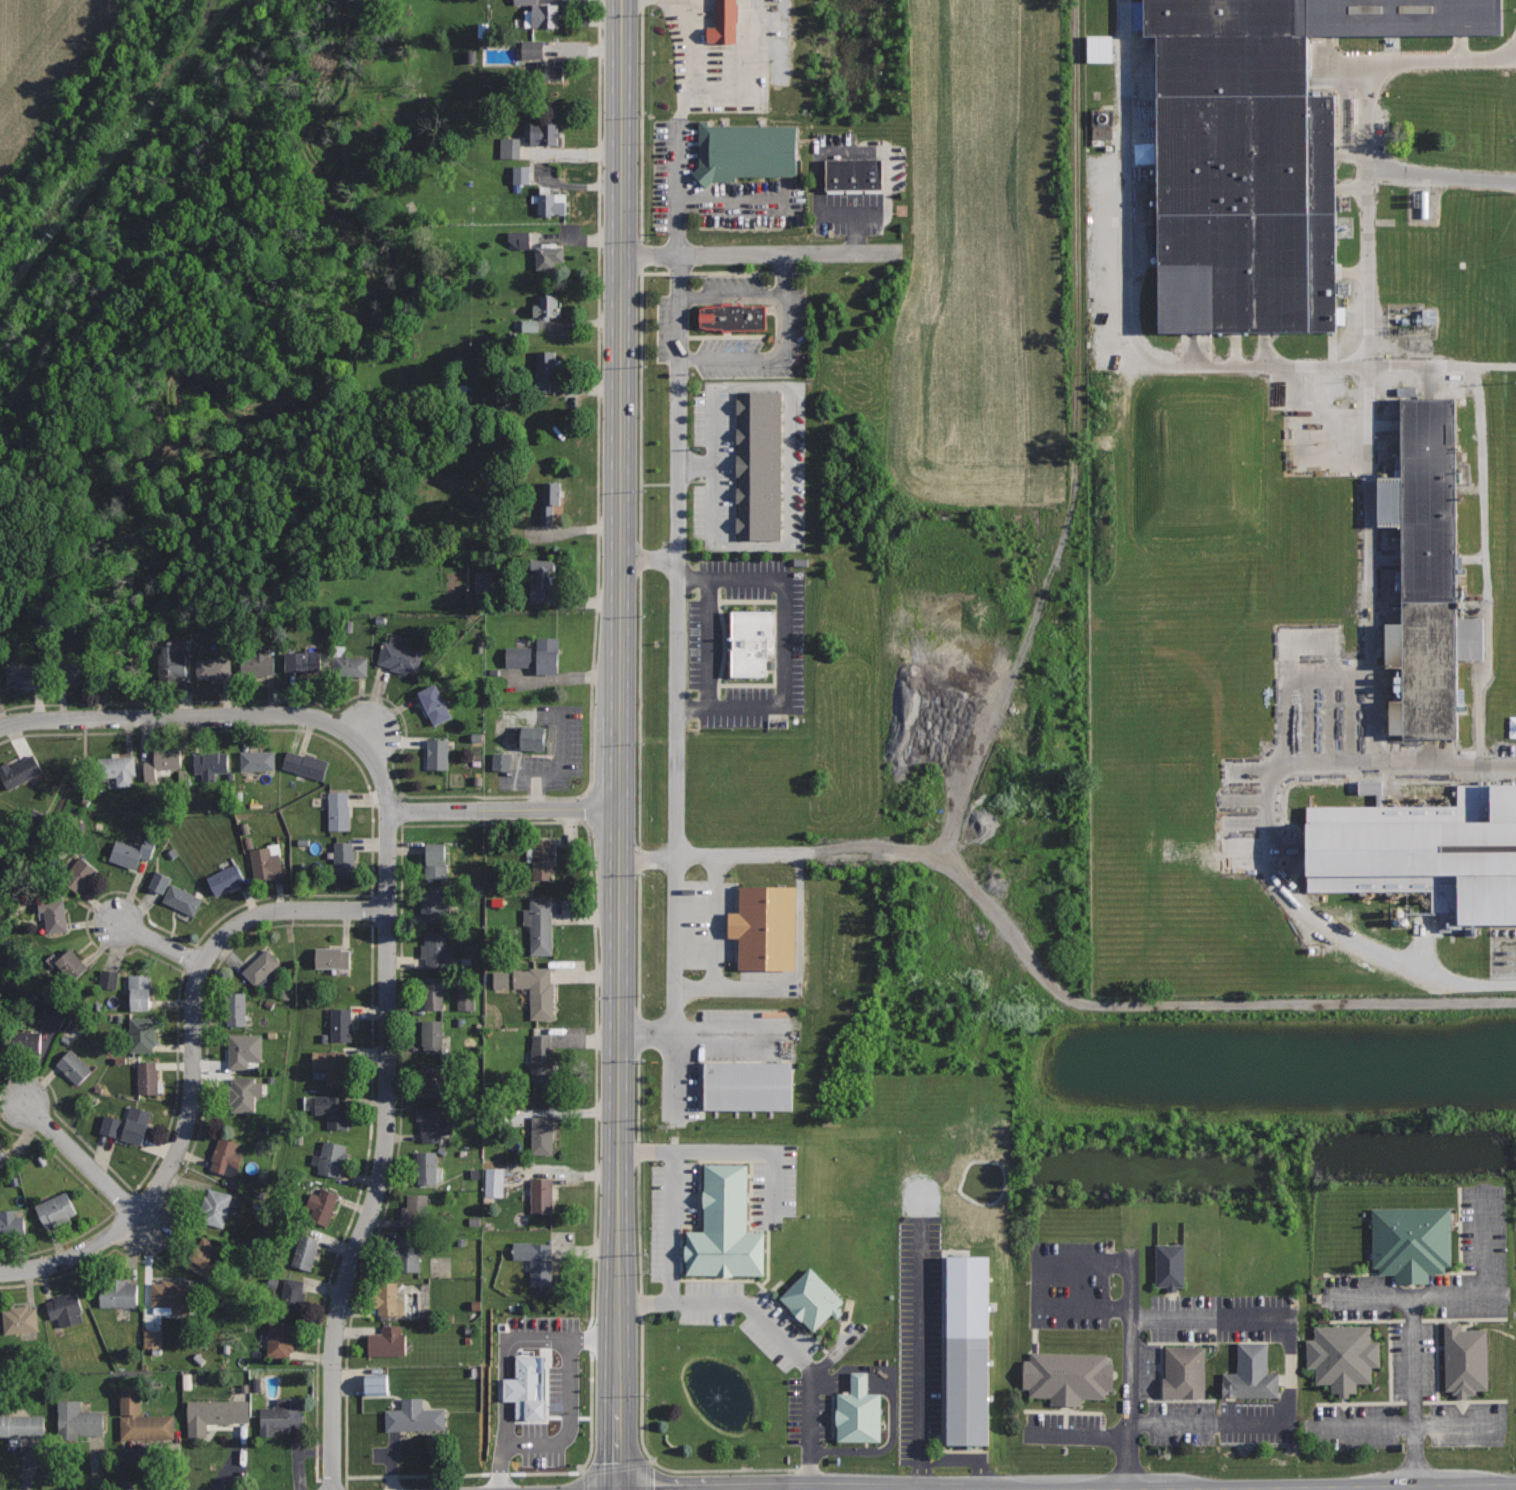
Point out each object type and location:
building: (542, 15)
building: (723, 22)
road: (749, 40)
road: (716, 48)
building: (527, 49)
building: (1096, 49)
parking lot: (726, 52)
road: (1384, 56)
building: (551, 72)
road: (730, 104)
road: (680, 110)
building: (1099, 124)
building: (544, 133)
building: (508, 148)
building: (745, 151)
road: (830, 152)
building: (1252, 152)
road: (1440, 172)
building: (520, 175)
building: (853, 175)
parking lot: (854, 185)
parking lot: (711, 190)
building: (550, 202)
road: (741, 203)
road: (679, 237)
building: (516, 239)
road: (760, 255)
building: (548, 256)
road: (787, 275)
road: (733, 297)
building: (547, 306)
building: (1426, 317)
building: (729, 318)
parking lot: (733, 323)
building: (527, 326)
road: (764, 357)
road: (1148, 359)
building: (545, 366)
road: (696, 464)
building: (759, 464)
parking lot: (749, 466)
road: (1482, 491)
building: (548, 500)
road: (1370, 533)
road: (793, 545)
road: (648, 559)
building: (1423, 573)
building: (541, 579)
road: (1041, 590)
road: (677, 612)
building: (752, 641)
road: (711, 643)
parking lot: (746, 643)
road: (786, 643)
building: (399, 655)
building: (537, 655)
building: (302, 659)
building: (257, 662)
building: (172, 664)
building: (351, 665)
building: (213, 667)
building: (77, 672)
building: (24, 676)
building: (0, 677)
building: (435, 704)
road: (1479, 712)
road: (178, 716)
road: (362, 729)
building: (531, 736)
road: (620, 745)
building: (438, 753)
building: (258, 760)
building: (506, 761)
building: (163, 762)
building: (211, 764)
building: (305, 764)
building: (119, 769)
building: (19, 771)
building: (1365, 786)
road: (643, 806)
building: (340, 810)
road: (503, 810)
building: (132, 851)
building: (1416, 851)
building: (345, 857)
building: (543, 858)
building: (436, 860)
building: (266, 861)
building: (79, 873)
building: (226, 876)
building: (164, 882)
building: (182, 899)
road: (1288, 901)
building: (436, 906)
building: (53, 916)
road: (715, 923)
building: (540, 925)
building: (767, 928)
parking lot: (731, 936)
road: (161, 943)
building: (437, 949)
building: (333, 957)
building: (71, 964)
building: (262, 969)
building: (112, 978)
road: (737, 988)
building: (139, 990)
building: (538, 990)
building: (433, 993)
road: (675, 996)
building: (470, 997)
road: (1192, 1005)
building: (236, 1009)
building: (57, 1018)
building: (341, 1024)
building: (141, 1033)
building: (432, 1036)
road: (705, 1036)
building: (0, 1040)
building: (24, 1041)
parking lot: (710, 1048)
building: (244, 1050)
building: (0, 1059)
building: (542, 1059)
building: (75, 1066)
building: (334, 1066)
road: (193, 1068)
building: (149, 1076)
building: (432, 1080)
building: (747, 1085)
building: (244, 1093)
building: (333, 1109)
road: (386, 1112)
building: (432, 1123)
building: (127, 1125)
building: (541, 1134)
road: (761, 1152)
building: (2, 1156)
road: (79, 1156)
building: (226, 1156)
building: (333, 1158)
building: (426, 1167)
building: (500, 1182)
building: (541, 1195)
building: (323, 1198)
building: (215, 1207)
building: (56, 1210)
building: (415, 1212)
building: (11, 1223)
road: (670, 1226)
building: (725, 1227)
building: (1412, 1241)
building: (305, 1252)
building: (408, 1253)
building: (204, 1255)
parking lot: (665, 1256)
building: (537, 1260)
building: (1170, 1264)
road: (1041, 1284)
building: (118, 1293)
building: (172, 1294)
building: (292, 1295)
road: (1458, 1296)
building: (812, 1298)
building: (389, 1299)
building: (66, 1308)
road: (747, 1308)
parking lot: (1179, 1317)
building: (20, 1319)
building: (281, 1338)
building: (157, 1339)
building: (387, 1341)
parking lot: (1423, 1342)
building: (963, 1350)
parking lot: (922, 1352)
road: (836, 1353)
road: (917, 1354)
building: (1343, 1355)
building: (1464, 1359)
road: (1127, 1369)
parking lot: (1129, 1370)
parking lot: (1147, 1370)
building: (1184, 1371)
parking lot: (1289, 1371)
road: (1146, 1372)
building: (1251, 1373)
road: (1289, 1373)
building: (1064, 1377)
road: (830, 1380)
building: (383, 1385)
building: (535, 1389)
road: (1415, 1391)
parking lot: (841, 1403)
building: (859, 1411)
building: (214, 1414)
building: (282, 1416)
building: (413, 1417)
building: (141, 1418)
building: (78, 1420)
parking lot: (1179, 1422)
building: (21, 1425)
road: (806, 1425)
road: (1396, 1427)
road: (1073, 1435)
road: (884, 1444)
road: (965, 1458)
road: (1331, 1487)
road: (1404, 1488)

